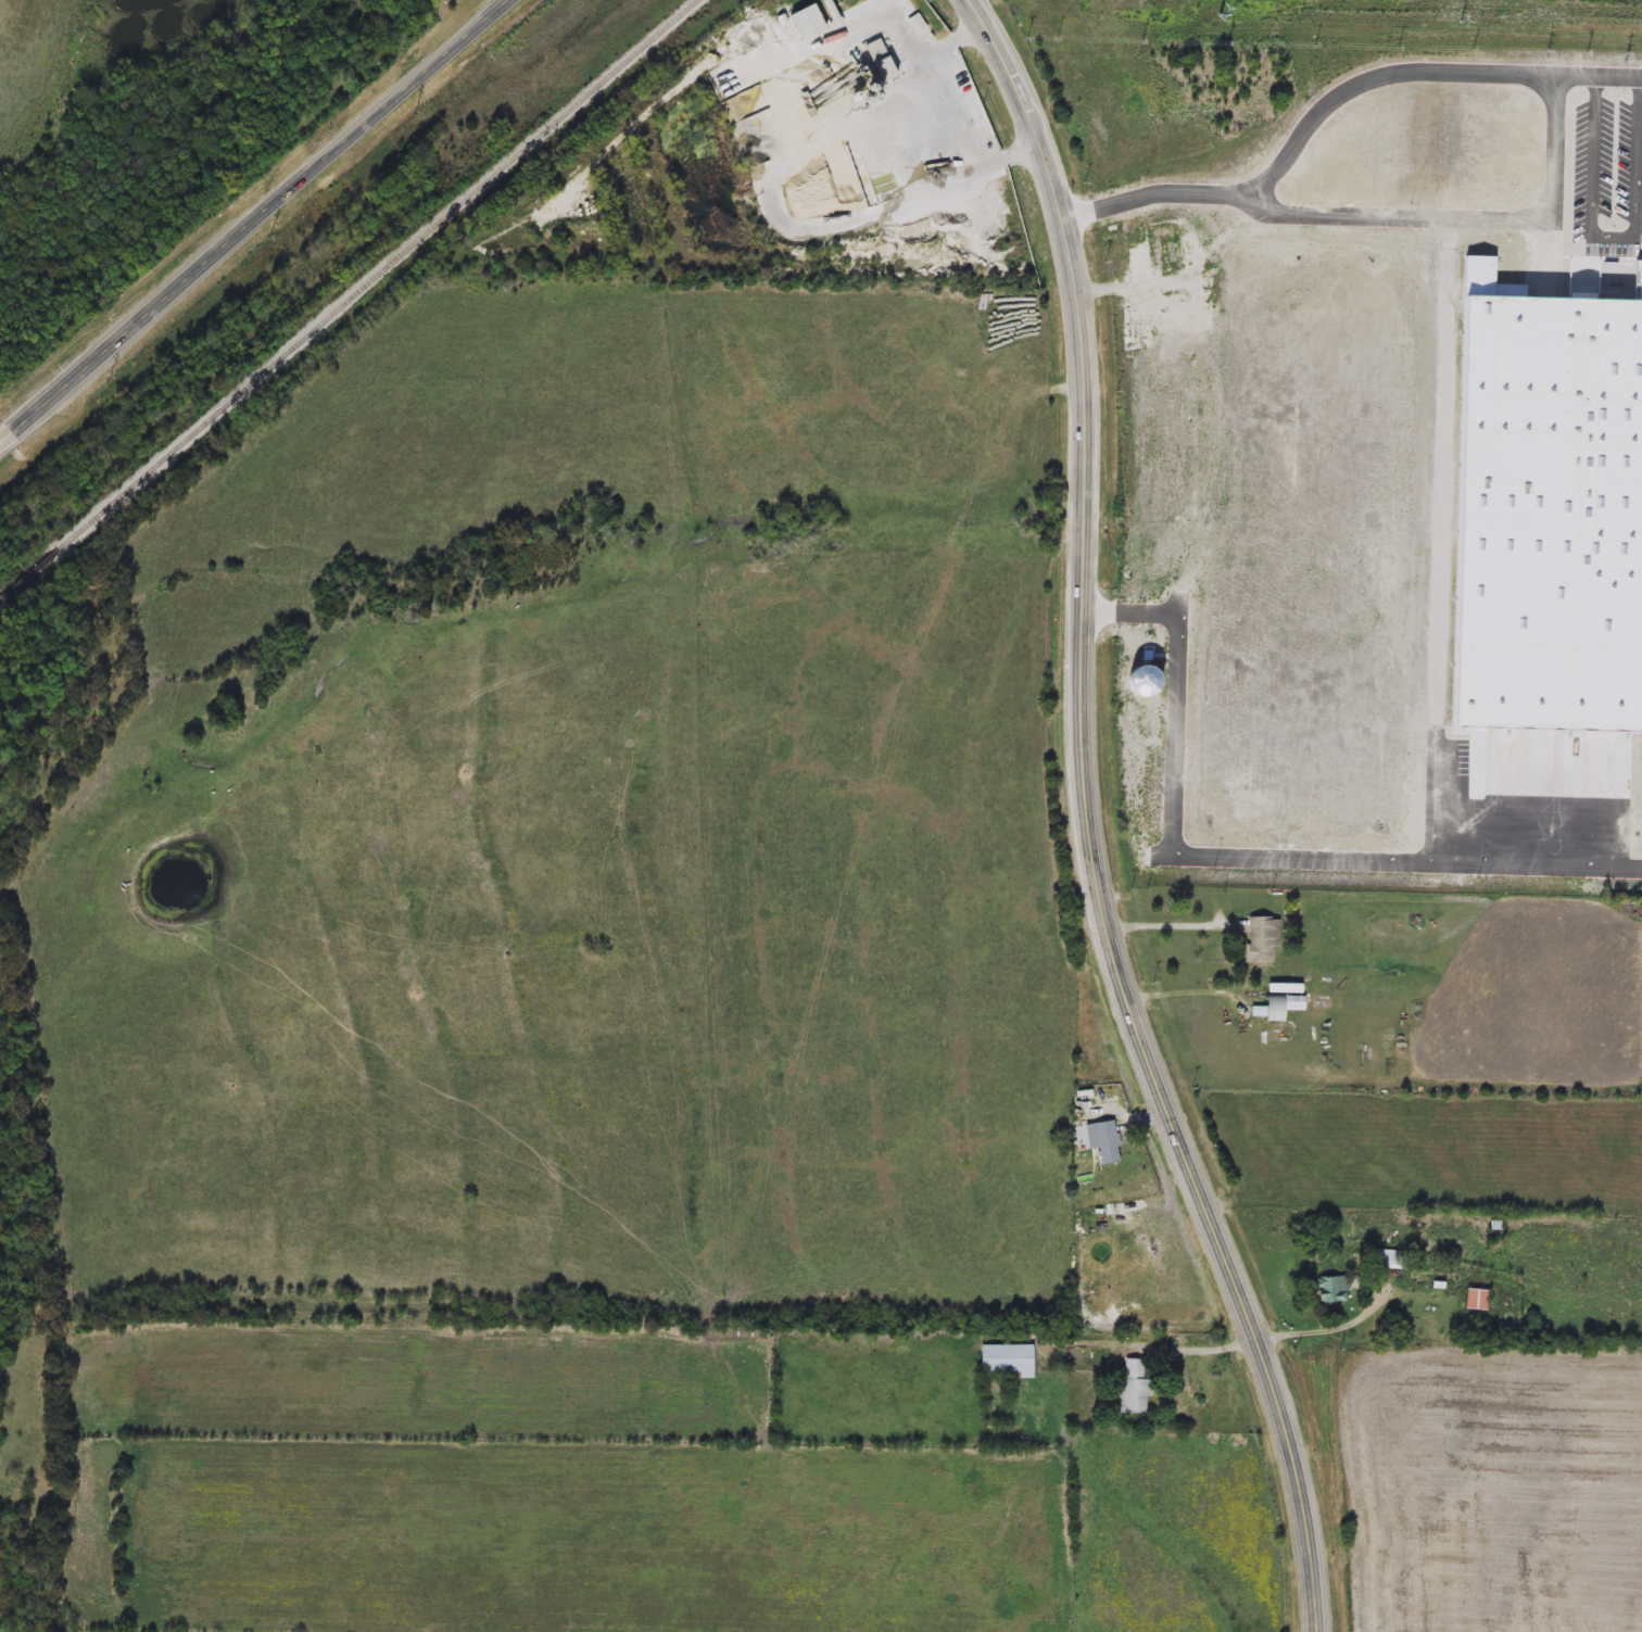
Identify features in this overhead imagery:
building: (806, 22)
building: (879, 60)
road: (1418, 72)
power tower: (422, 121)
road: (769, 203)
road: (1369, 212)
road: (261, 216)
road: (1616, 239)
power tower: (280, 240)
building: (1210, 243)
railway: (379, 274)
road: (1136, 283)
road: (4, 437)
road: (1444, 470)
building: (1545, 513)
railway: (30, 575)
railway: (0, 600)
road: (1436, 794)
road: (1091, 822)
road: (1246, 855)
road: (1169, 926)
building: (1262, 939)
road: (1186, 987)
building: (1283, 1007)
building: (1107, 1143)
building: (1119, 1223)
building: (1389, 1260)
building: (1332, 1290)
building: (1476, 1300)
road: (1328, 1332)
road: (1199, 1349)
building: (1007, 1363)
building: (1134, 1389)

